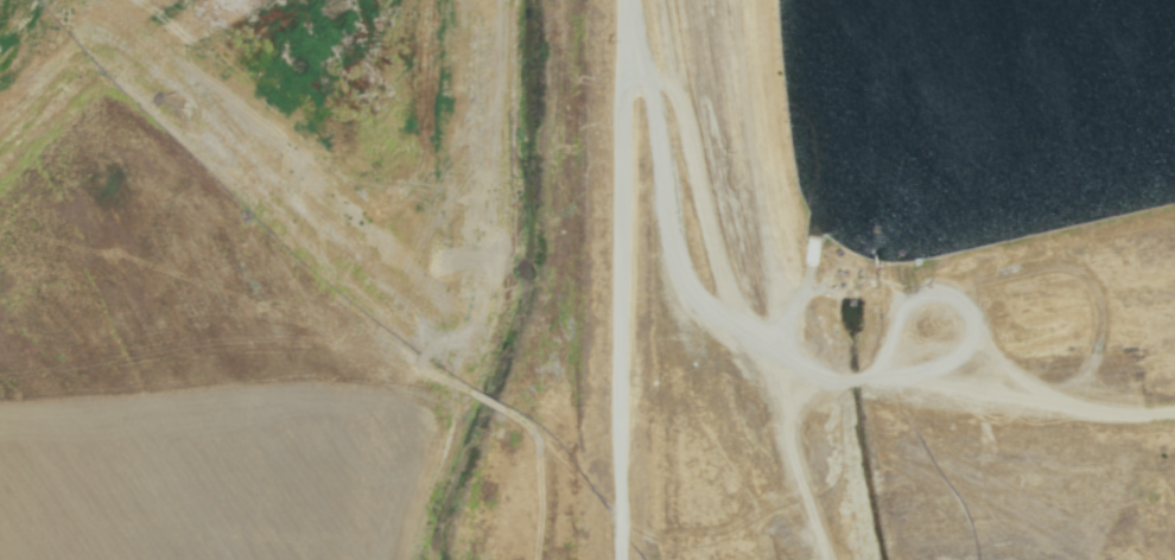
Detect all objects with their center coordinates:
crop: (311, 279)

